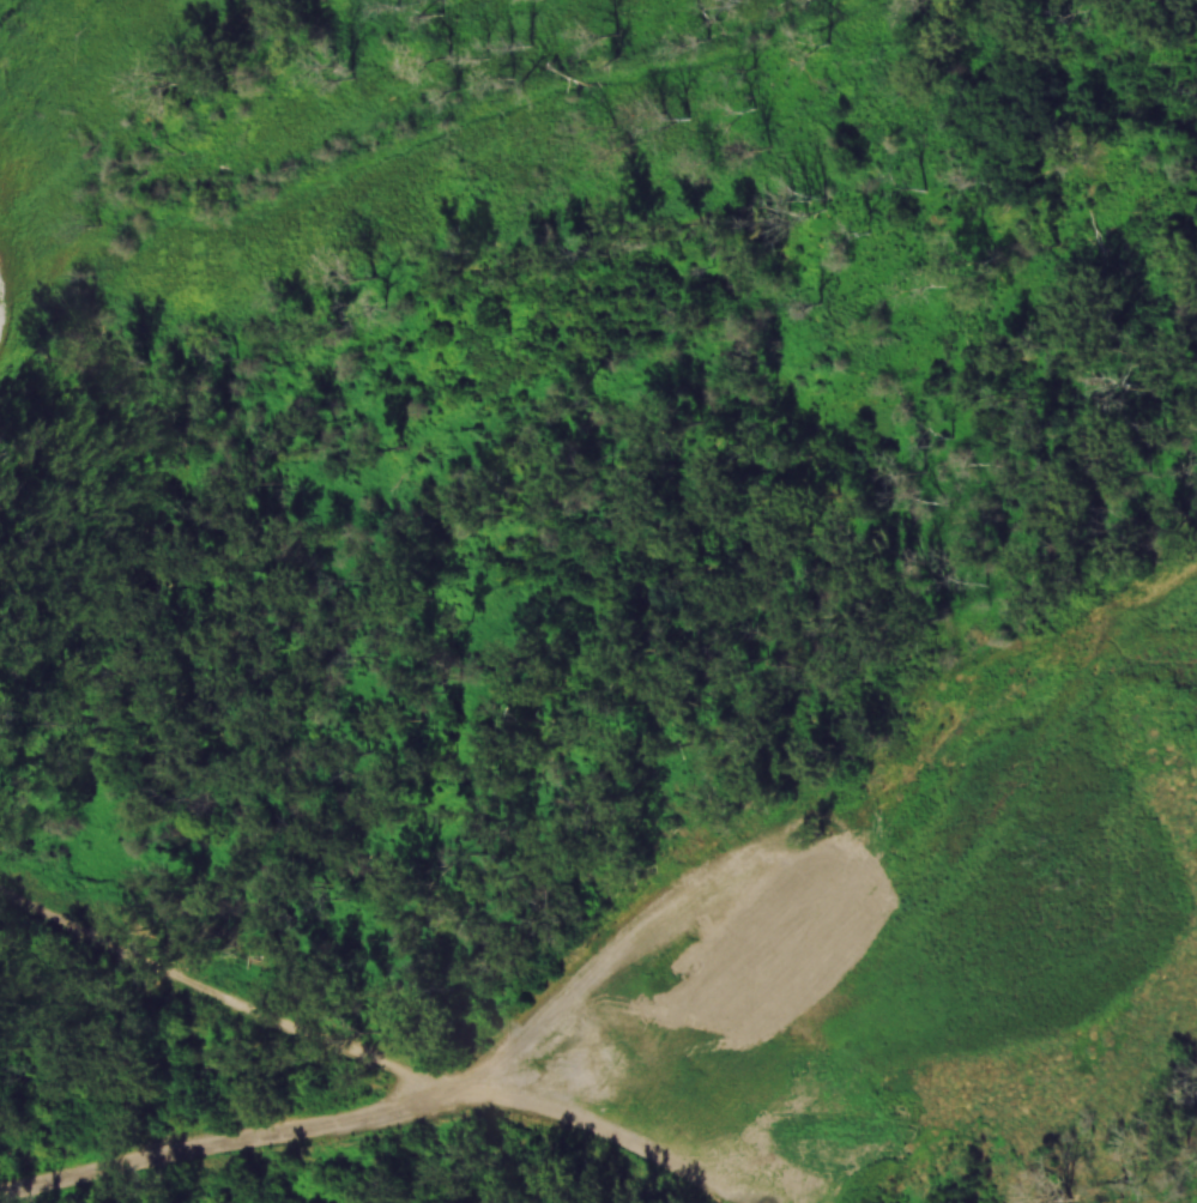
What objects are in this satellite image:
park: (598, 601)
road: (621, 921)
road: (216, 991)
road: (1044, 1113)
road: (568, 1134)
road: (217, 1143)

